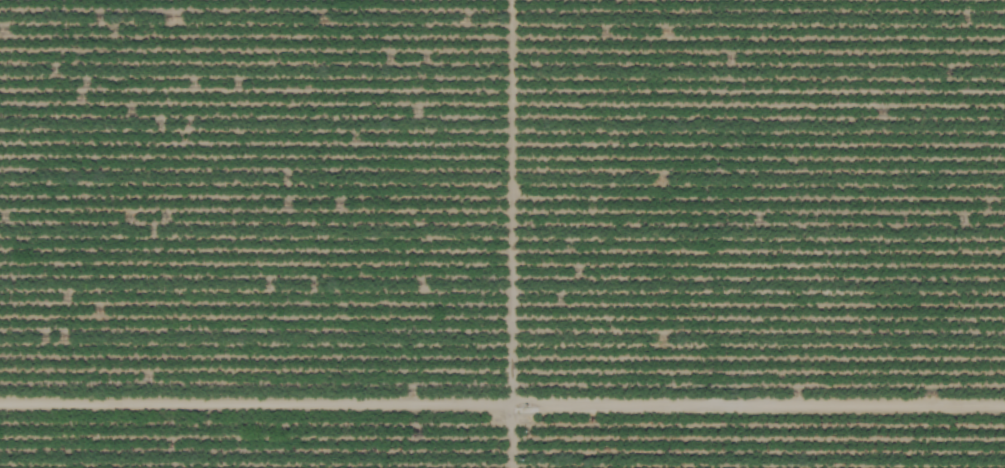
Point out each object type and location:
crop: (502, 234)

